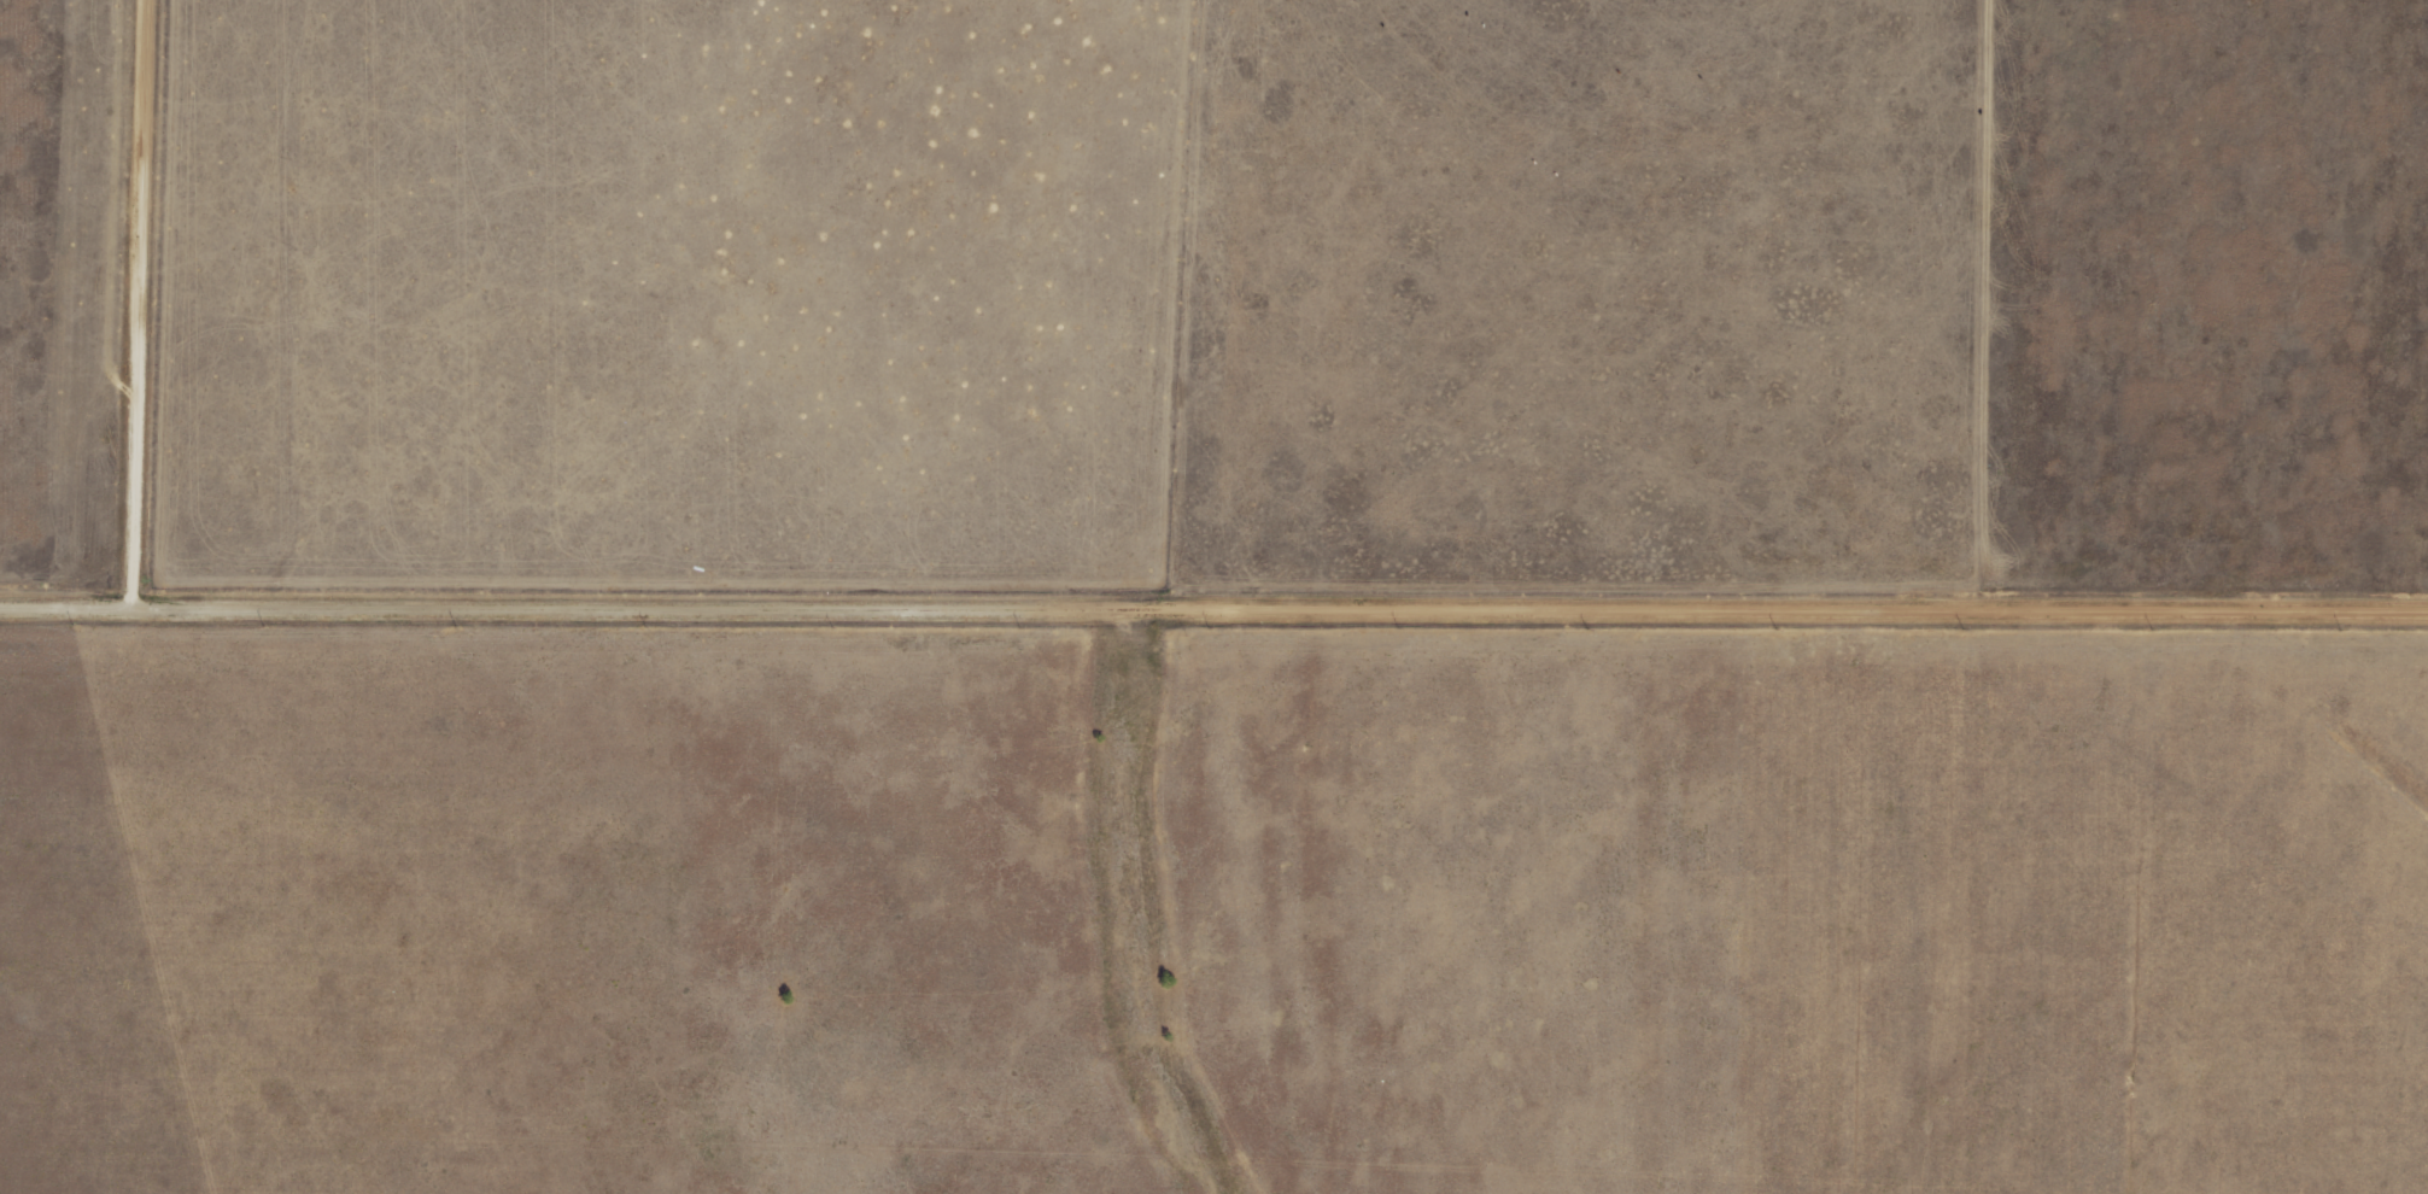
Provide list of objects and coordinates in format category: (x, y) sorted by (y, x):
road: (140, 304)
road: (1213, 614)

